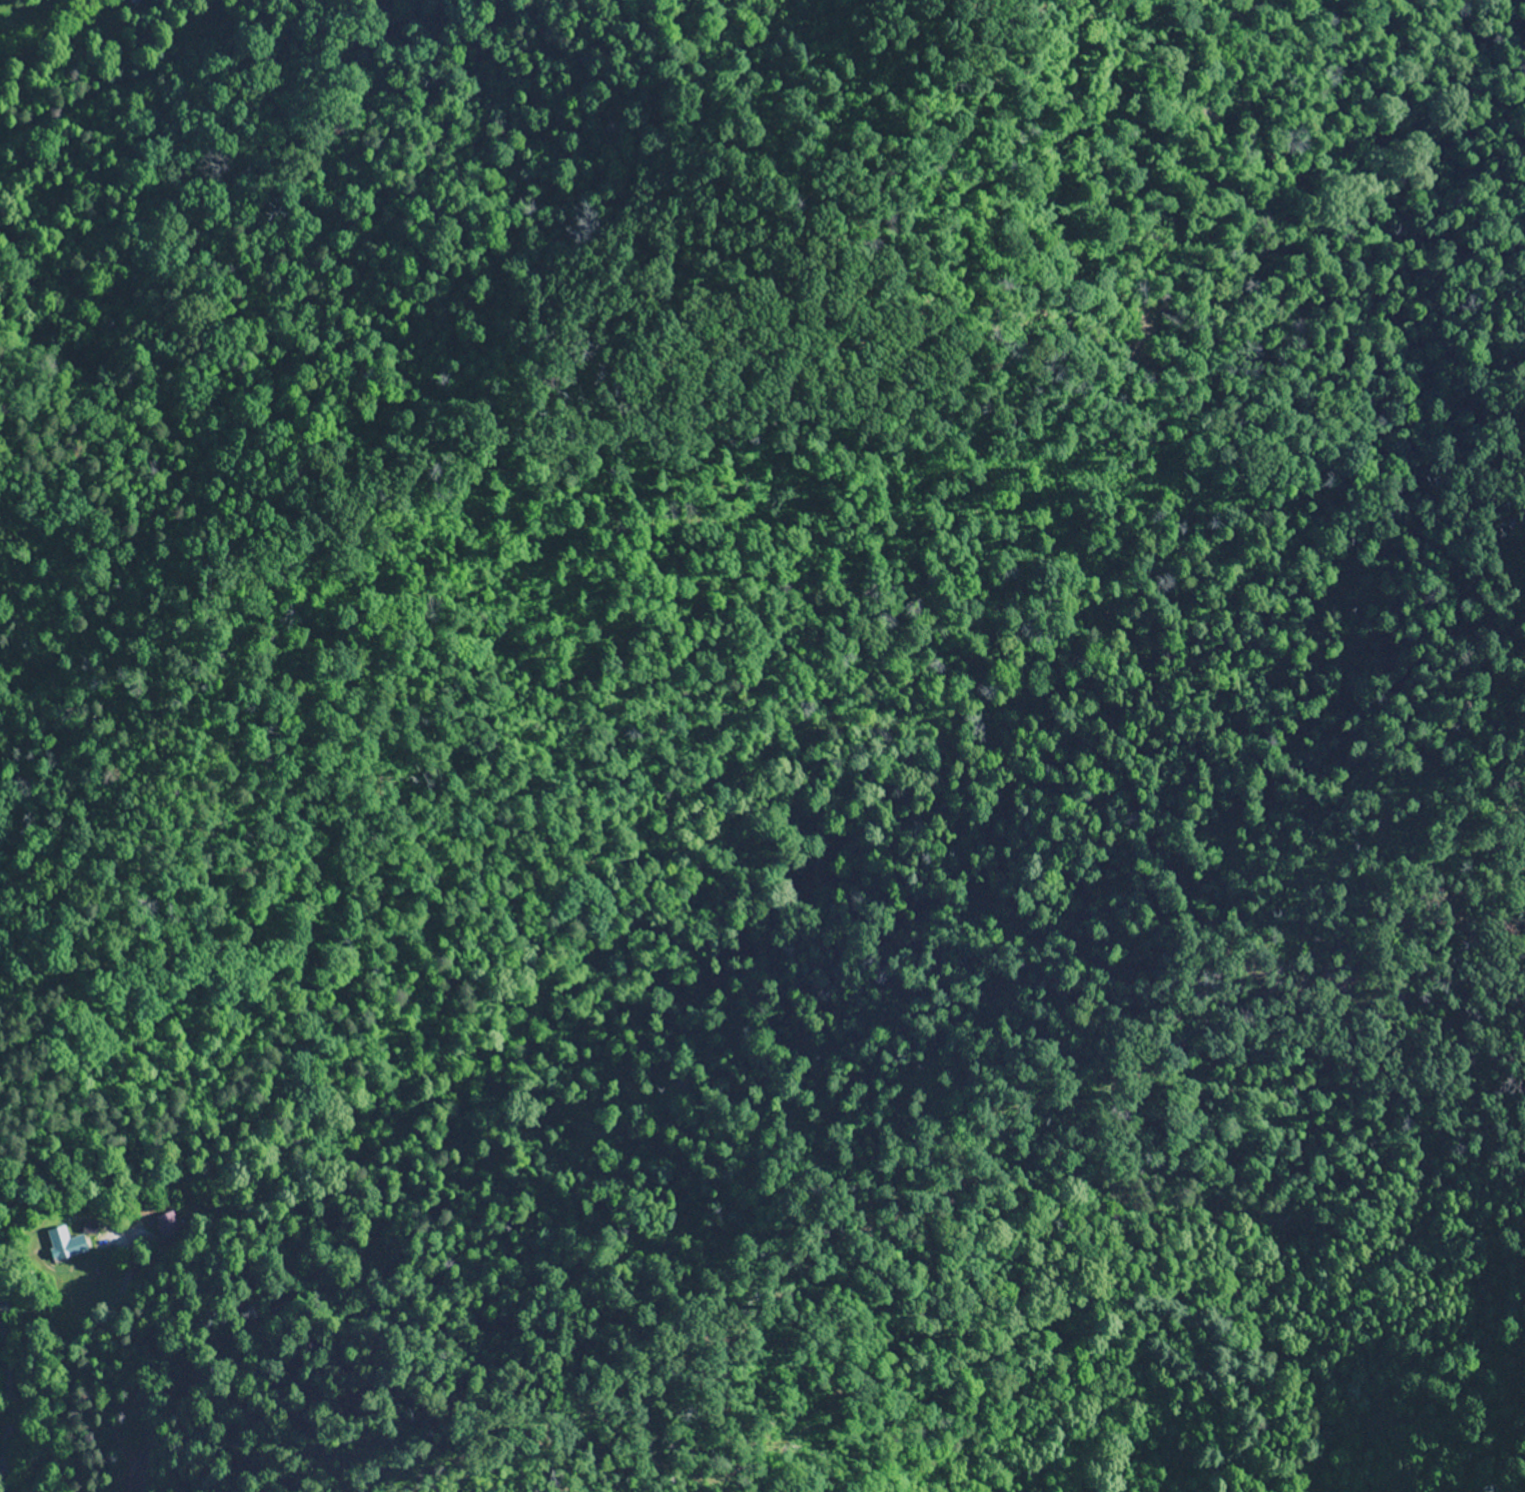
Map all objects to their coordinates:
building: (168, 1229)
building: (70, 1243)

